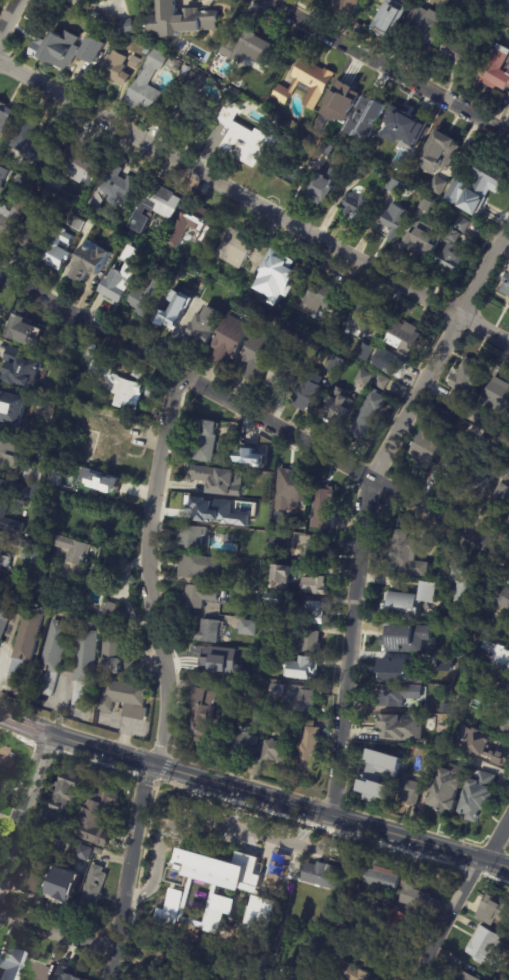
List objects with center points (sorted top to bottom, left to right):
building: (351, 6)
road: (8, 15)
building: (393, 18)
building: (182, 20)
building: (428, 25)
building: (124, 29)
building: (253, 47)
building: (464, 49)
building: (67, 51)
building: (118, 67)
road: (387, 67)
building: (497, 69)
building: (143, 80)
building: (310, 84)
building: (195, 104)
building: (352, 106)
building: (4, 116)
building: (366, 119)
building: (404, 129)
building: (247, 137)
building: (35, 140)
building: (328, 149)
building: (442, 150)
building: (14, 156)
building: (81, 157)
building: (361, 167)
building: (3, 176)
building: (119, 184)
building: (328, 185)
building: (396, 186)
building: (439, 186)
building: (480, 186)
building: (45, 194)
road: (254, 201)
building: (358, 204)
building: (427, 205)
building: (155, 206)
building: (72, 216)
building: (395, 220)
building: (9, 222)
building: (202, 223)
building: (463, 225)
building: (33, 235)
building: (423, 239)
building: (236, 248)
building: (59, 250)
building: (453, 253)
building: (91, 263)
building: (281, 272)
building: (183, 277)
building: (120, 283)
building: (504, 288)
building: (149, 298)
building: (325, 300)
building: (508, 305)
building: (175, 310)
building: (363, 317)
building: (198, 329)
building: (24, 332)
building: (233, 339)
building: (405, 340)
building: (58, 350)
building: (93, 351)
building: (365, 352)
building: (260, 356)
building: (392, 364)
building: (336, 365)
building: (24, 369)
building: (282, 373)
building: (472, 376)
building: (365, 379)
building: (381, 383)
building: (117, 385)
building: (309, 395)
building: (498, 396)
building: (461, 401)
building: (337, 406)
building: (12, 409)
road: (253, 413)
building: (369, 416)
building: (431, 439)
building: (508, 439)
building: (111, 442)
building: (207, 443)
building: (13, 452)
building: (249, 453)
building: (456, 460)
building: (36, 475)
building: (101, 481)
building: (221, 481)
building: (294, 488)
building: (37, 492)
building: (501, 498)
building: (11, 499)
road: (366, 501)
building: (324, 508)
building: (199, 509)
building: (508, 522)
building: (48, 534)
building: (194, 538)
building: (281, 540)
building: (320, 555)
building: (411, 555)
building: (31, 557)
building: (4, 560)
building: (77, 561)
building: (200, 567)
building: (283, 575)
building: (464, 582)
building: (315, 586)
building: (201, 597)
building: (505, 600)
building: (277, 601)
building: (411, 604)
building: (110, 613)
building: (316, 613)
building: (6, 616)
building: (270, 627)
building: (250, 629)
building: (208, 632)
building: (399, 640)
building: (311, 643)
building: (26, 645)
building: (498, 654)
building: (53, 656)
building: (116, 656)
road: (2, 657)
building: (215, 662)
building: (437, 663)
building: (85, 667)
building: (302, 670)
building: (395, 671)
road: (164, 676)
building: (490, 677)
building: (277, 688)
building: (505, 692)
building: (399, 696)
building: (125, 699)
building: (504, 699)
building: (303, 702)
building: (201, 711)
building: (258, 716)
building: (502, 720)
building: (399, 727)
building: (243, 743)
building: (309, 746)
building: (482, 746)
building: (275, 751)
building: (5, 756)
building: (432, 763)
building: (373, 777)
building: (412, 790)
building: (450, 790)
road: (253, 791)
building: (65, 792)
building: (0, 793)
building: (481, 797)
road: (28, 813)
building: (99, 816)
building: (56, 822)
road: (221, 823)
building: (196, 839)
building: (98, 851)
building: (84, 852)
building: (40, 867)
building: (325, 874)
building: (383, 877)
building: (65, 885)
building: (94, 887)
building: (415, 896)
road: (459, 896)
building: (173, 901)
building: (494, 910)
building: (215, 912)
building: (358, 912)
building: (313, 914)
building: (390, 917)
building: (257, 918)
building: (342, 920)
road: (58, 936)
building: (371, 946)
building: (489, 946)
building: (7, 965)
building: (32, 971)
building: (352, 972)
building: (65, 974)
building: (220, 976)
building: (465, 976)

